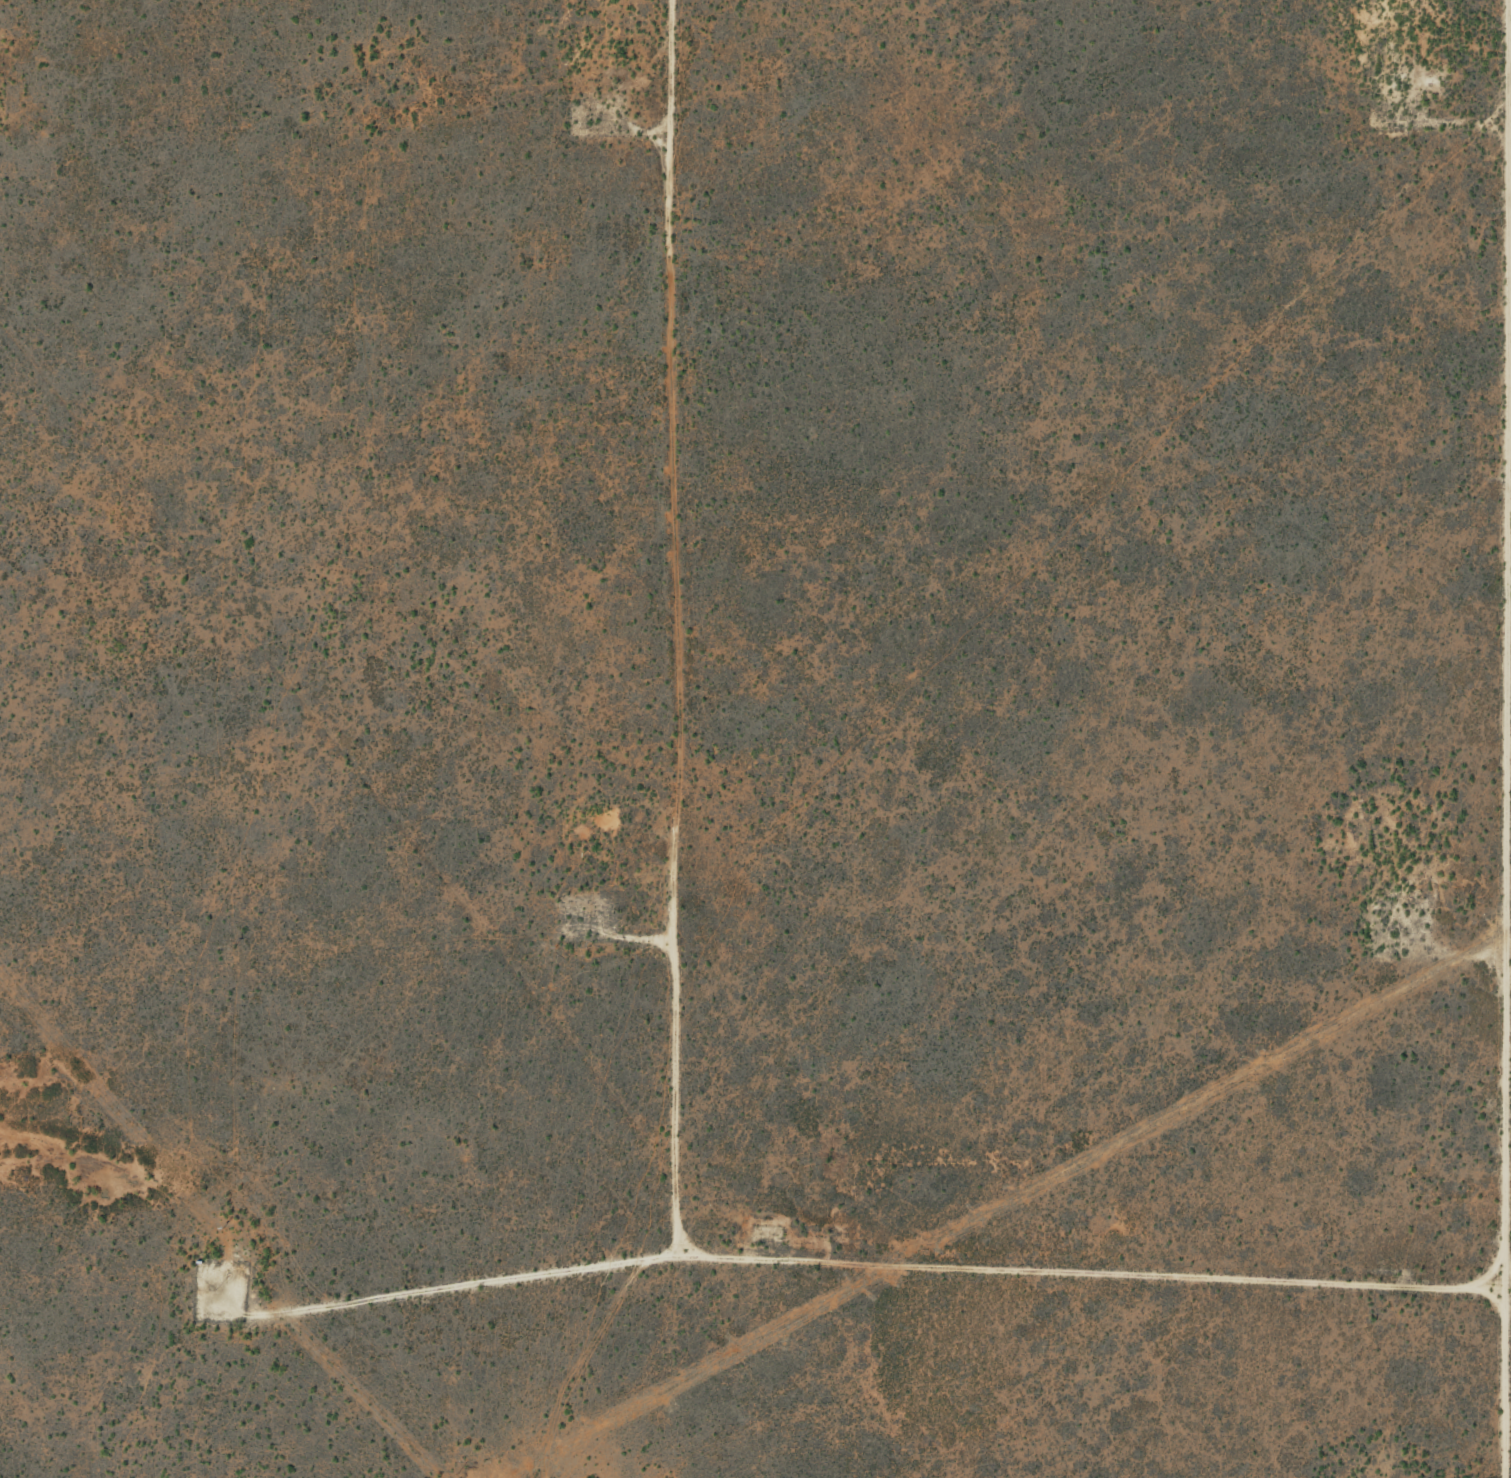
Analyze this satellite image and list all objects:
road: (715, 1010)

